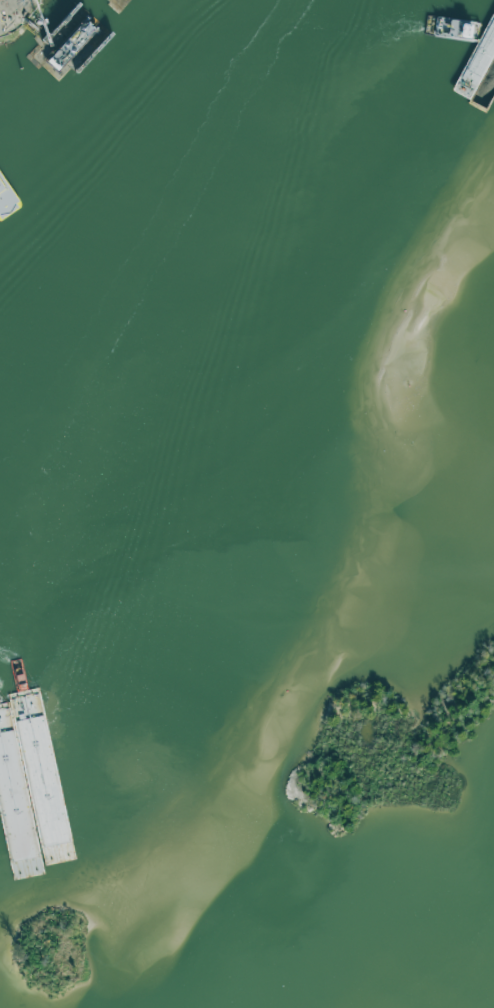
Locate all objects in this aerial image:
building: (0, 33)
building: (6, 130)
building: (15, 187)
river: (169, 315)

